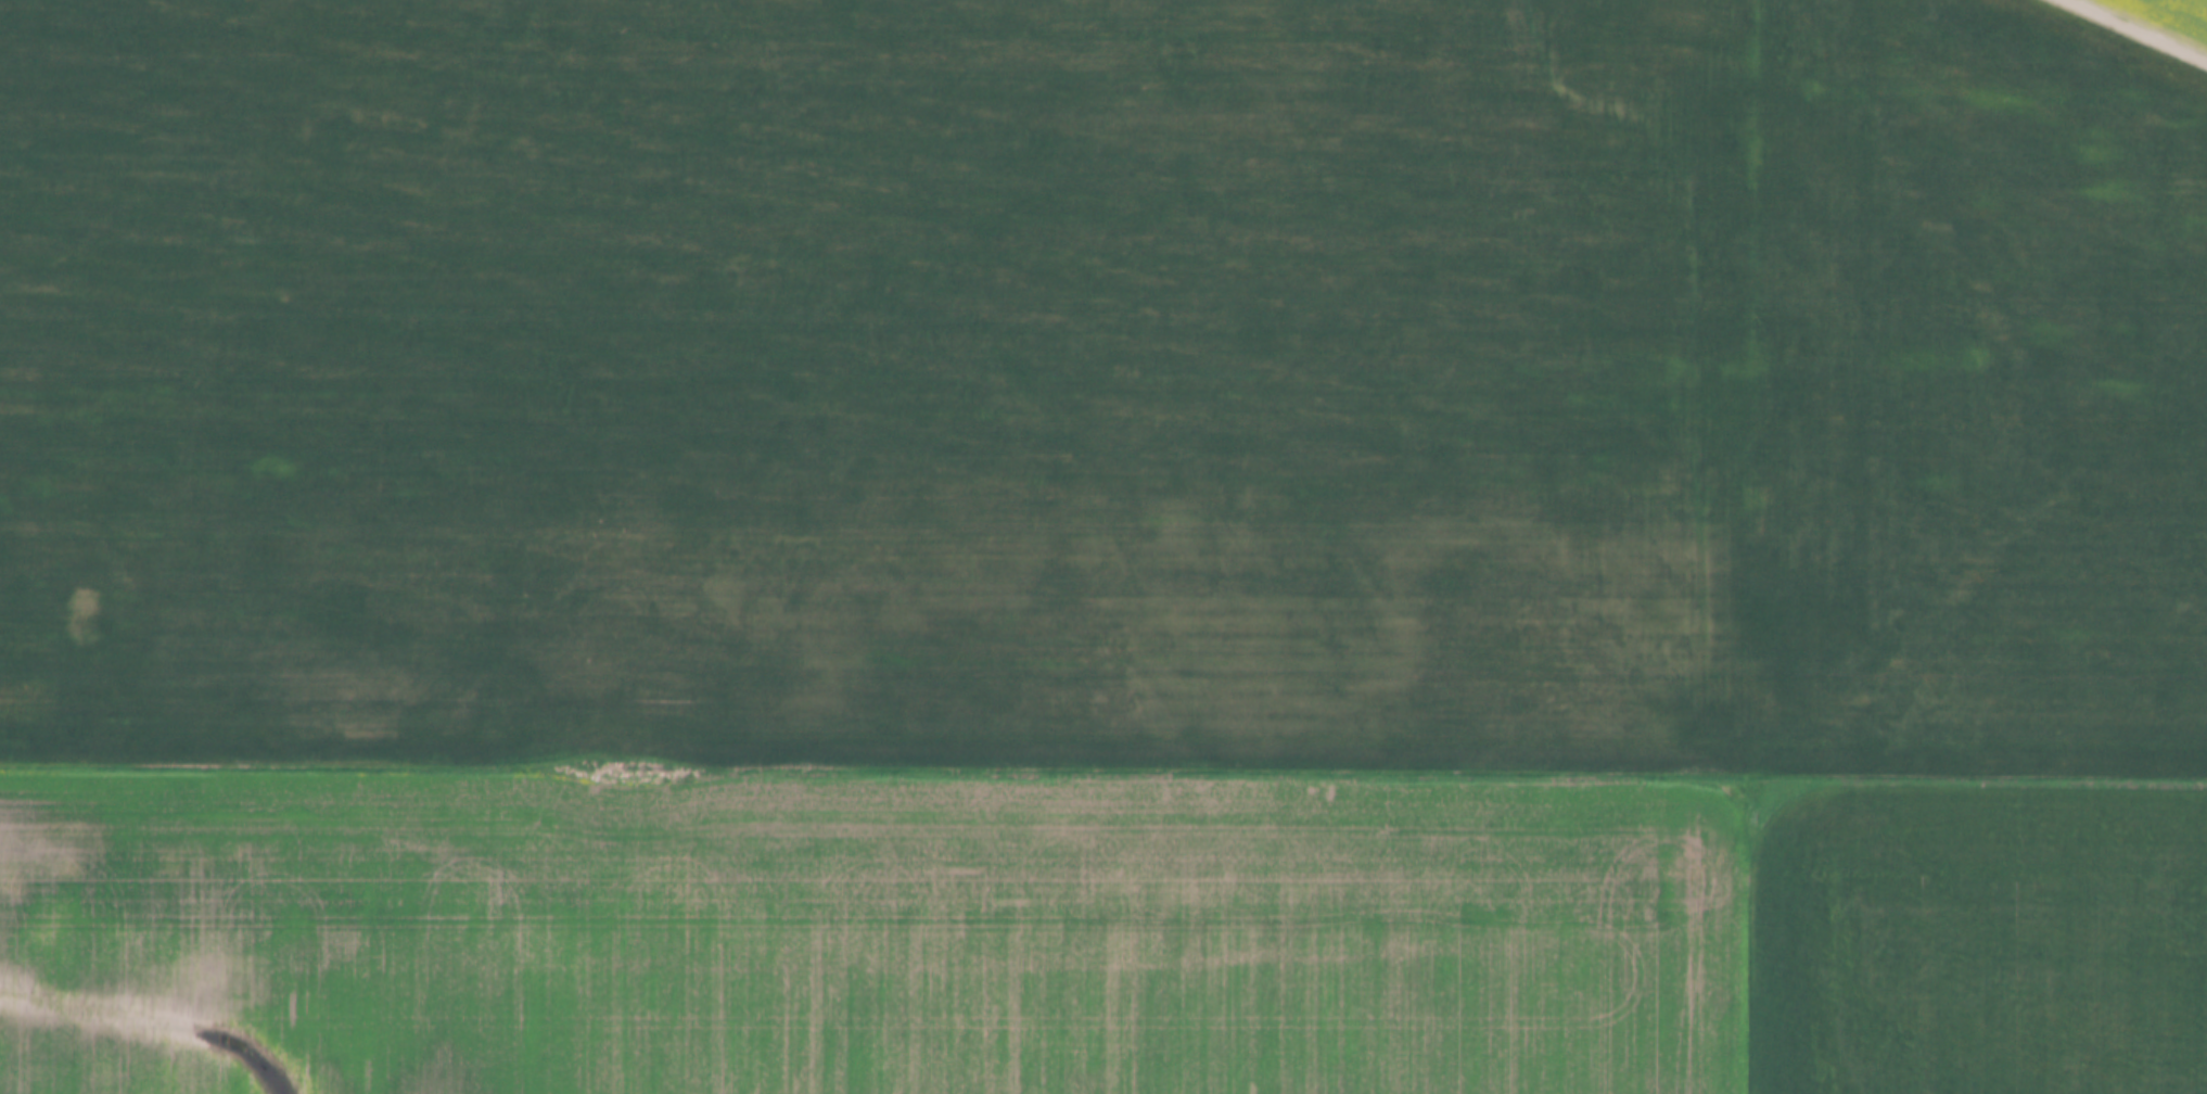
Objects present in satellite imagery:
road: (2155, 22)

